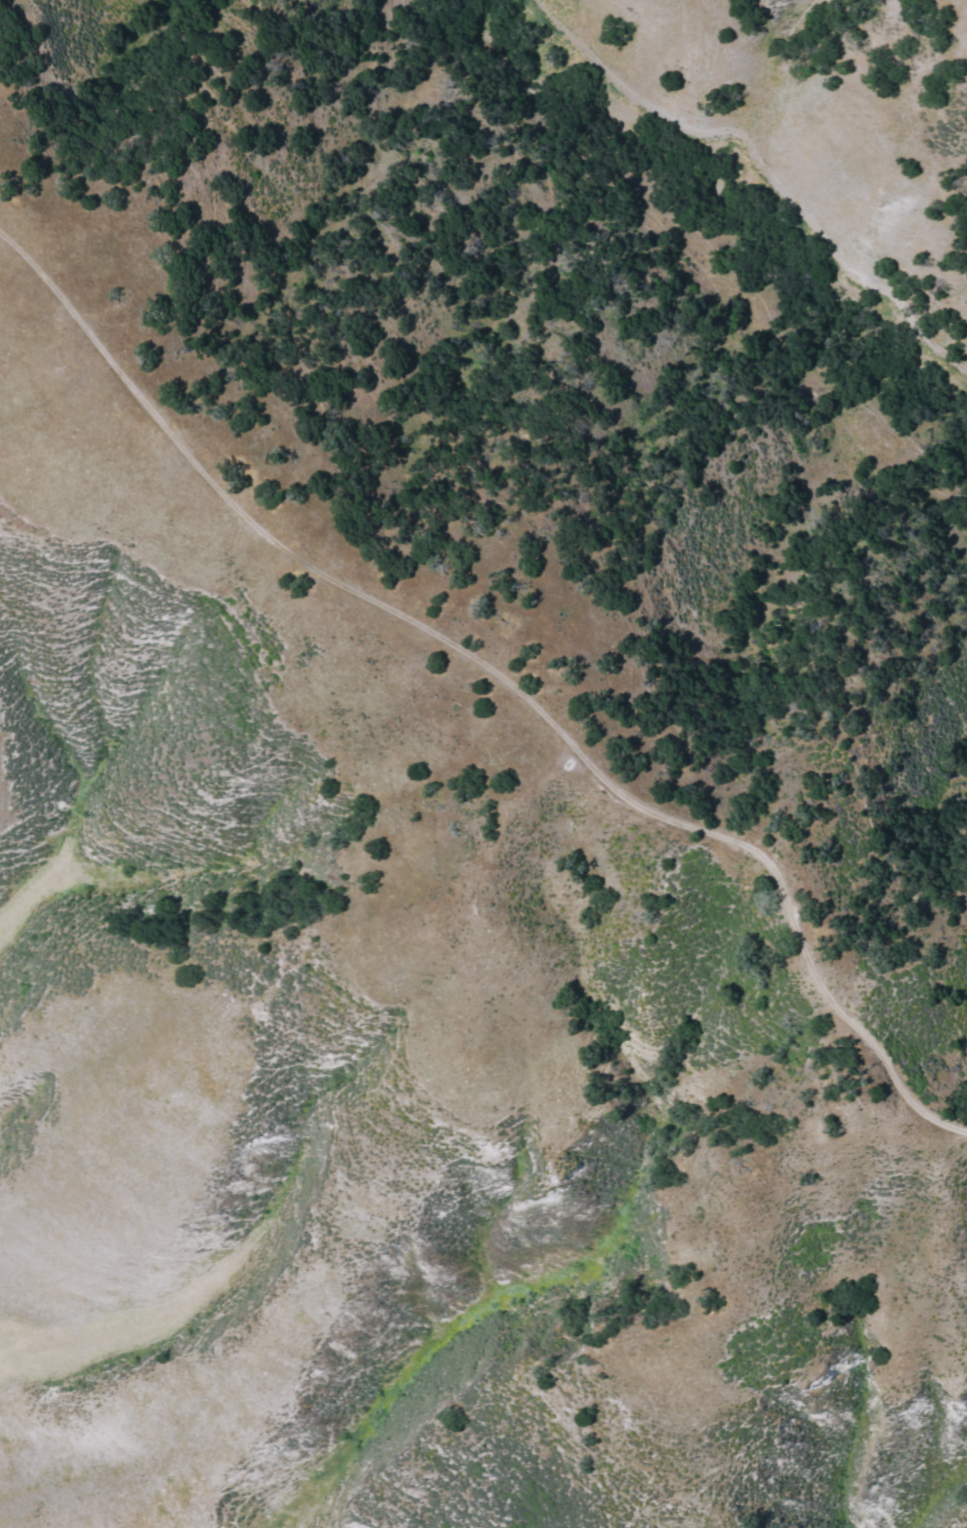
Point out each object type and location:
road: (504, 672)

